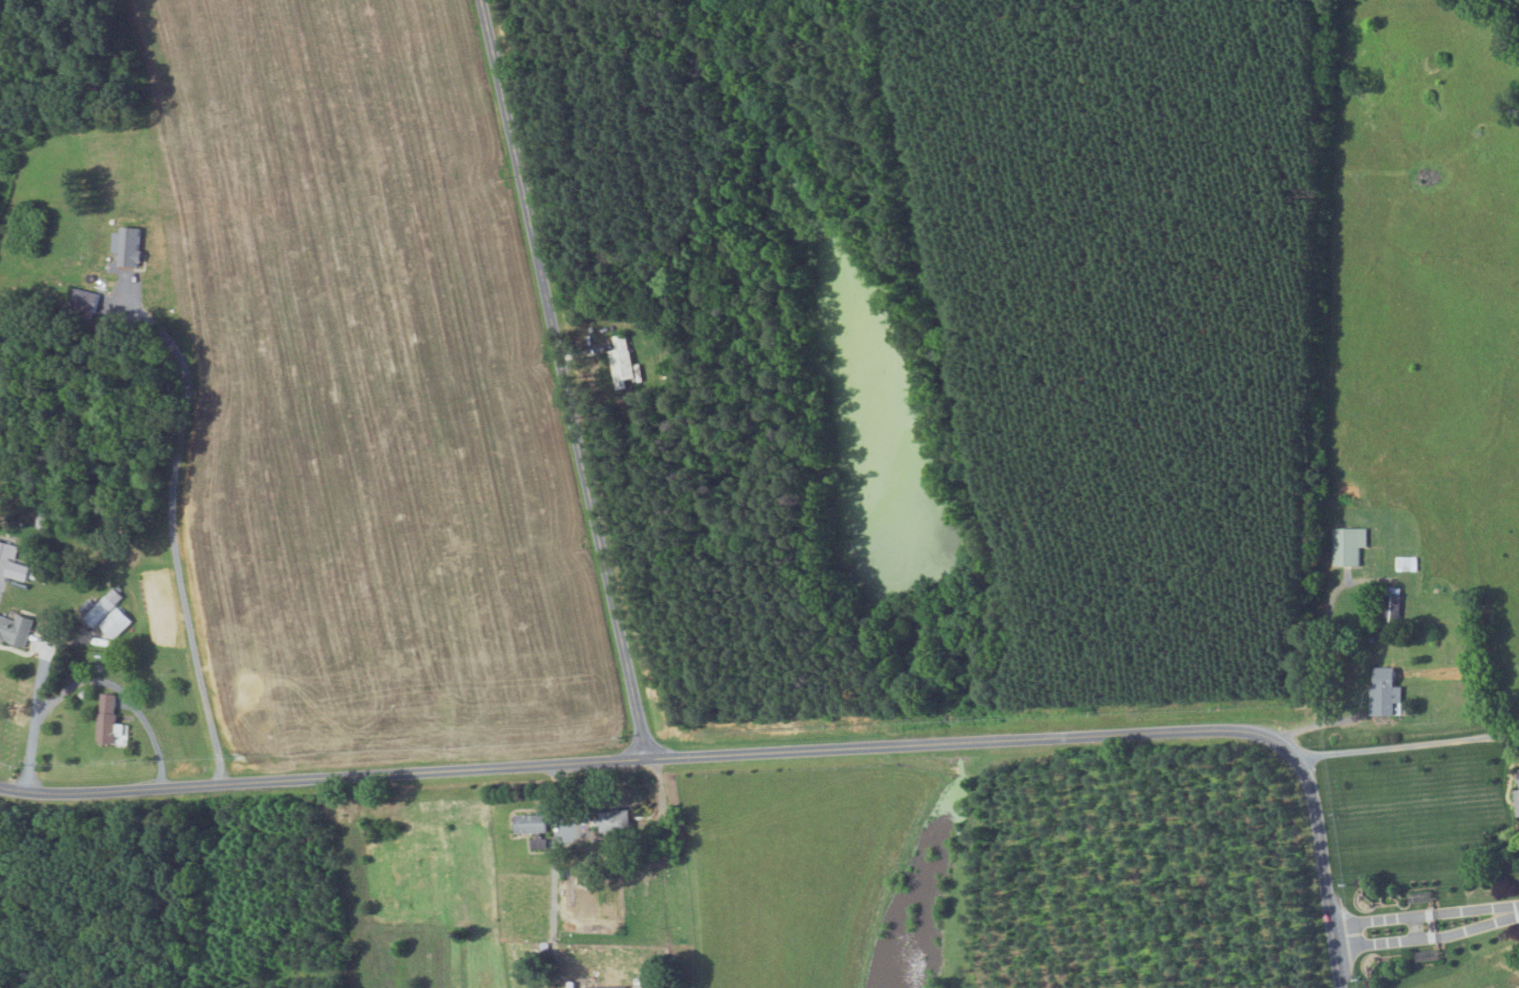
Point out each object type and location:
building: (128, 247)
building: (620, 361)
road: (563, 378)
building: (42, 520)
road: (172, 531)
building: (1347, 545)
building: (12, 562)
building: (2, 567)
building: (1390, 609)
building: (106, 617)
building: (14, 630)
building: (1383, 690)
road: (121, 691)
road: (33, 718)
building: (109, 723)
road: (1408, 748)
road: (769, 751)
building: (1517, 800)
building: (612, 819)
building: (532, 827)
road: (1426, 929)
building: (604, 986)

